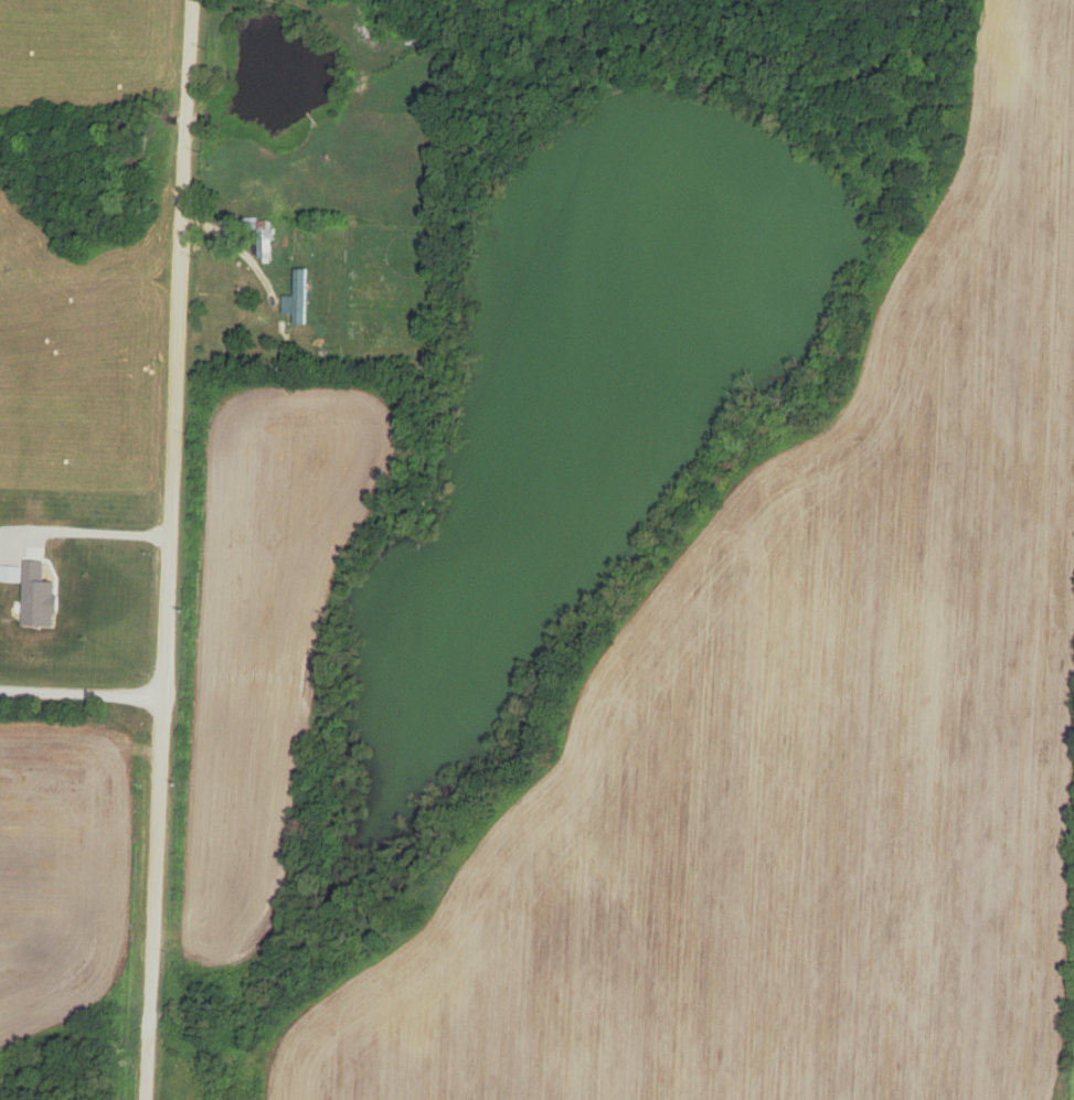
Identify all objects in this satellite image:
building: (264, 239)
building: (299, 301)
road: (168, 549)
road: (81, 695)

